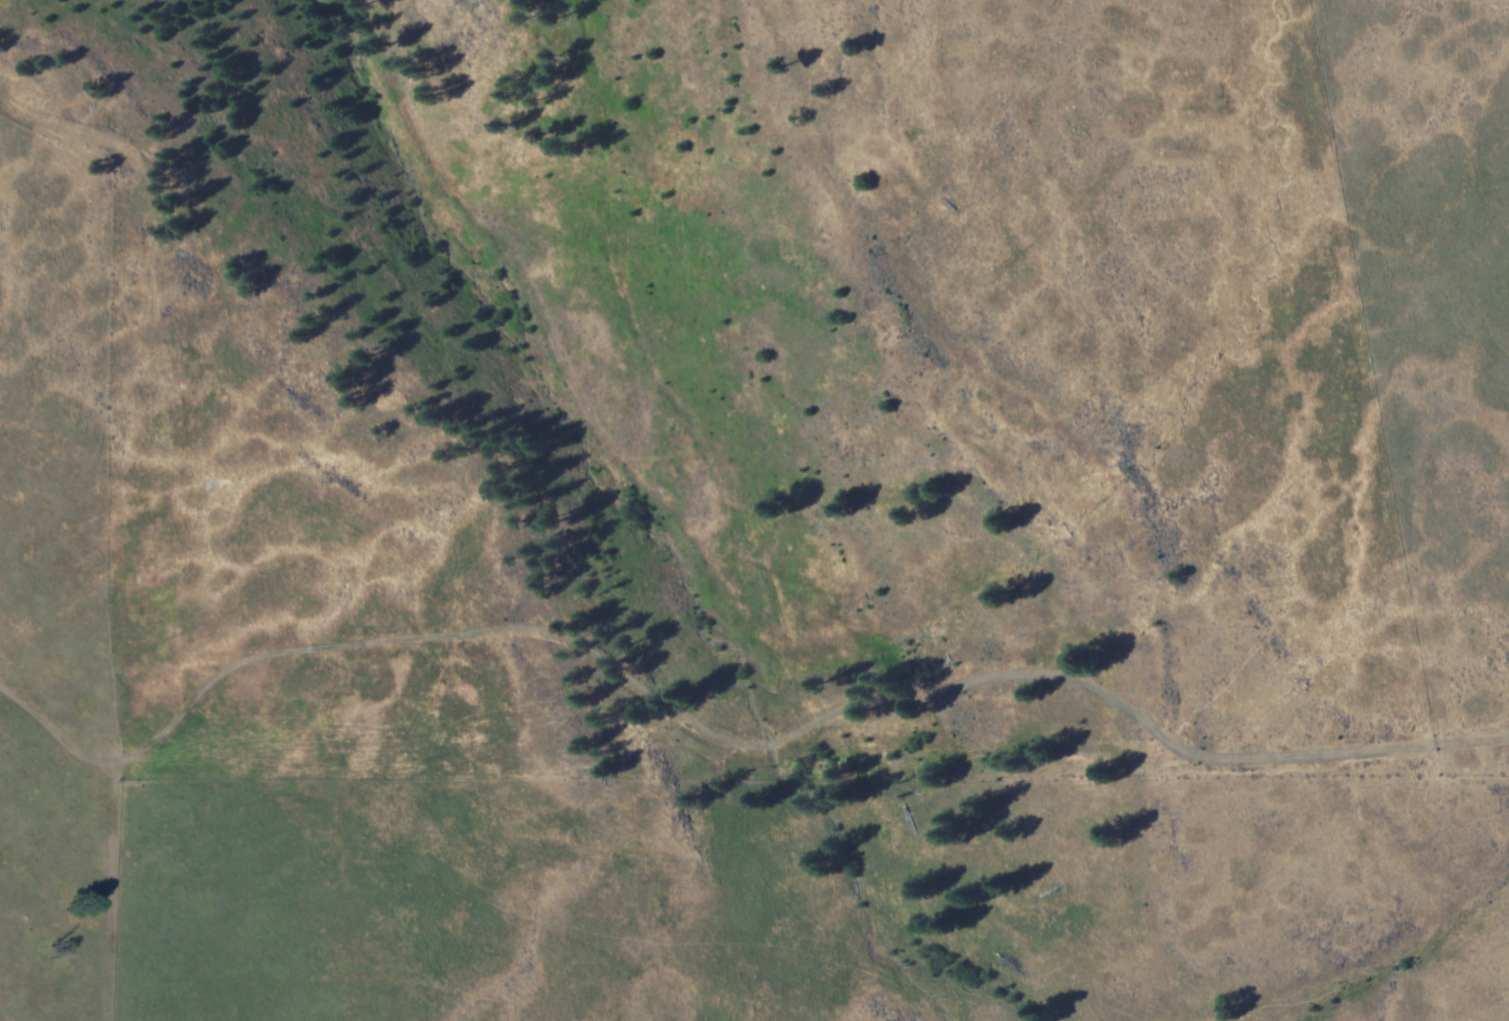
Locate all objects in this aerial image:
road: (635, 876)

